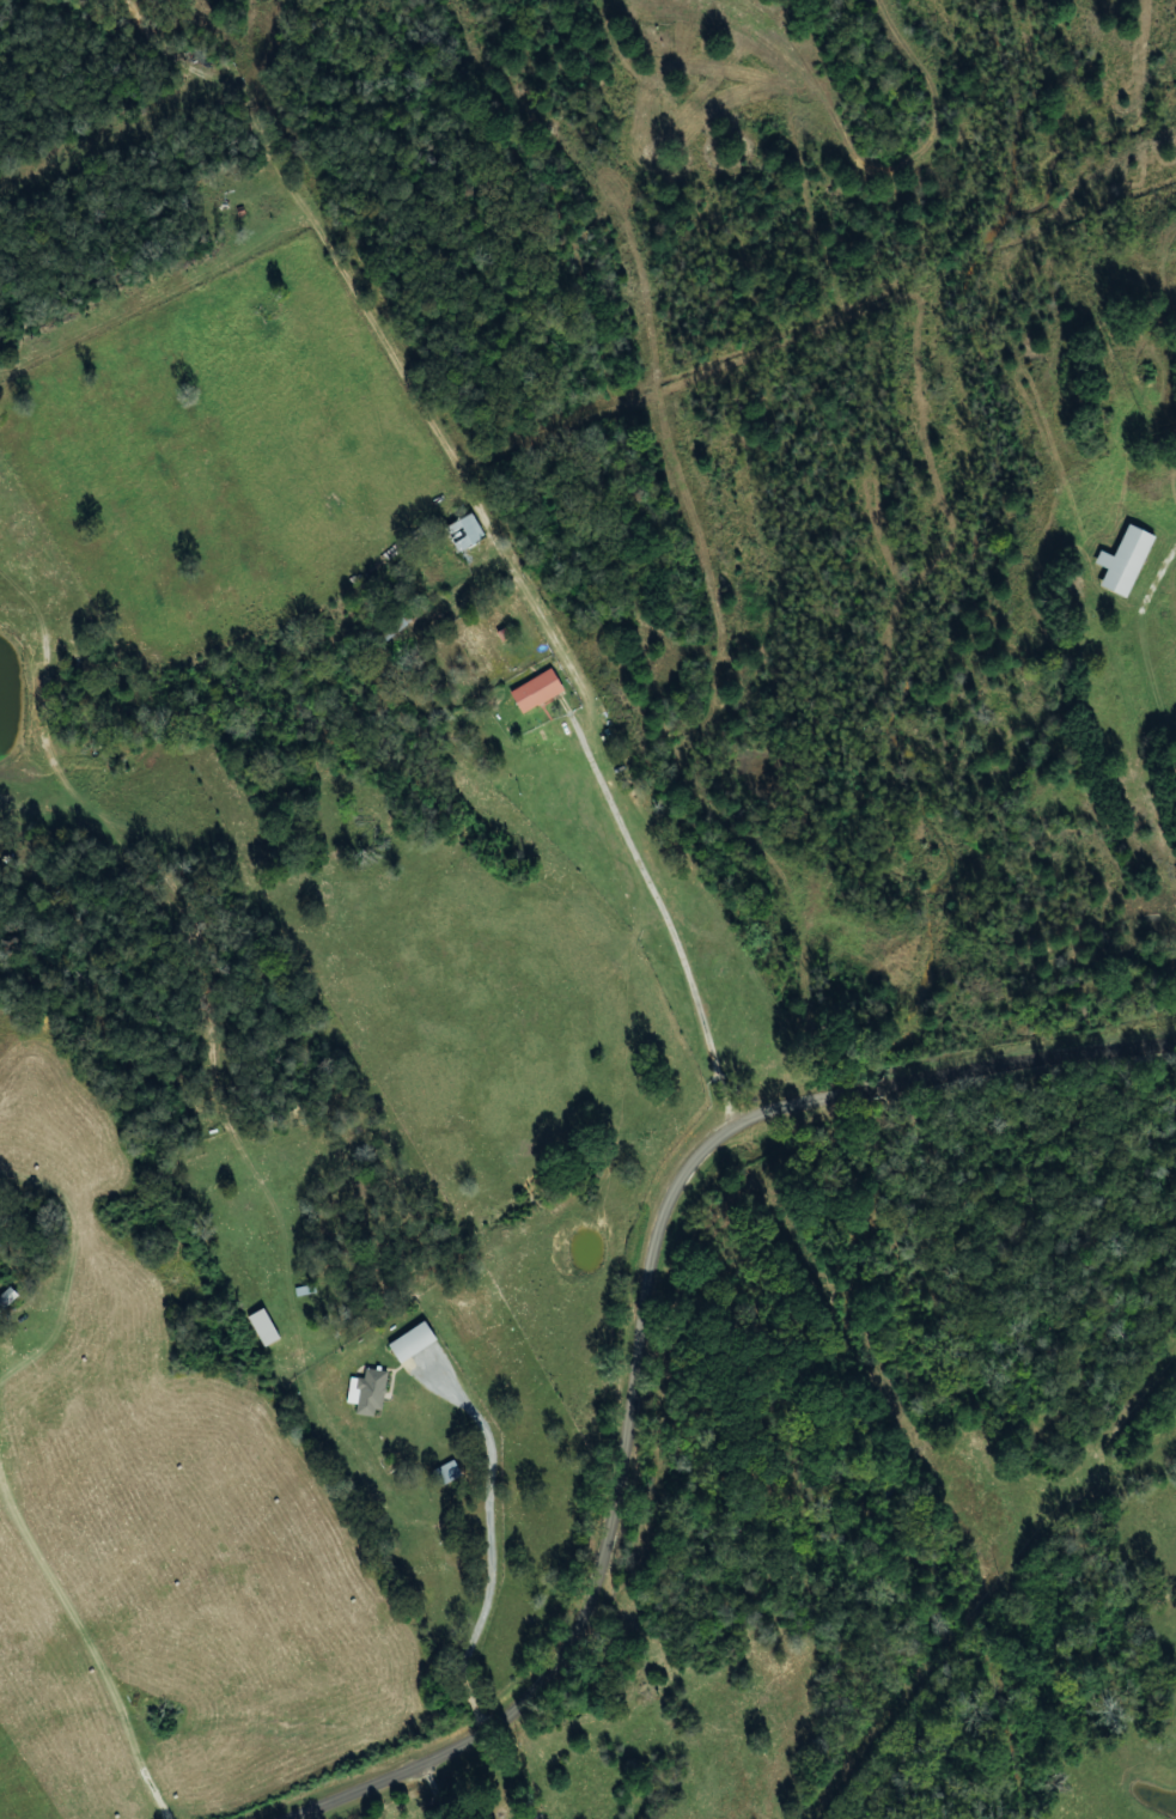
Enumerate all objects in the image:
building: (469, 531)
building: (1129, 560)
building: (541, 691)
road: (641, 1326)
building: (267, 1327)
building: (416, 1342)
building: (371, 1392)
building: (450, 1472)

